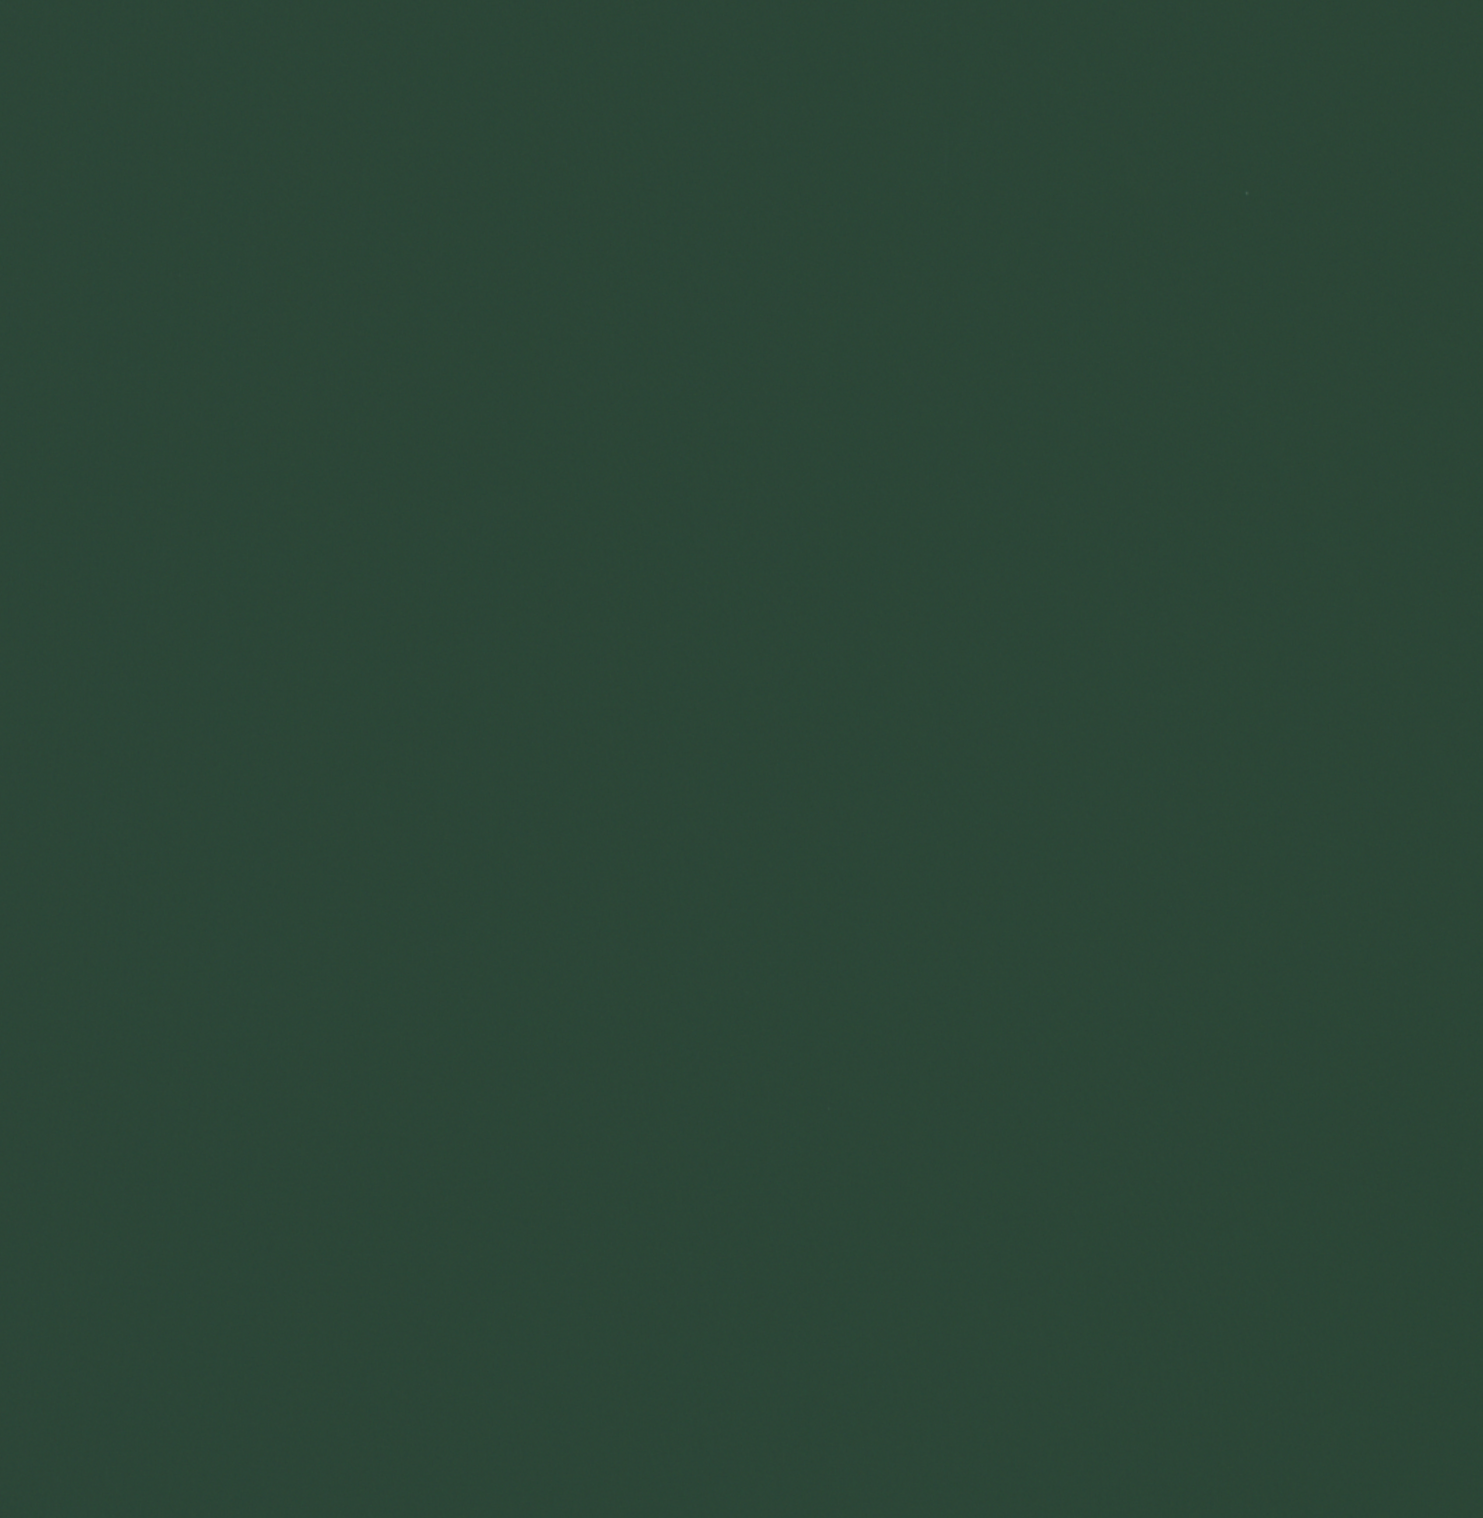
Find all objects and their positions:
river: (102, 399)

